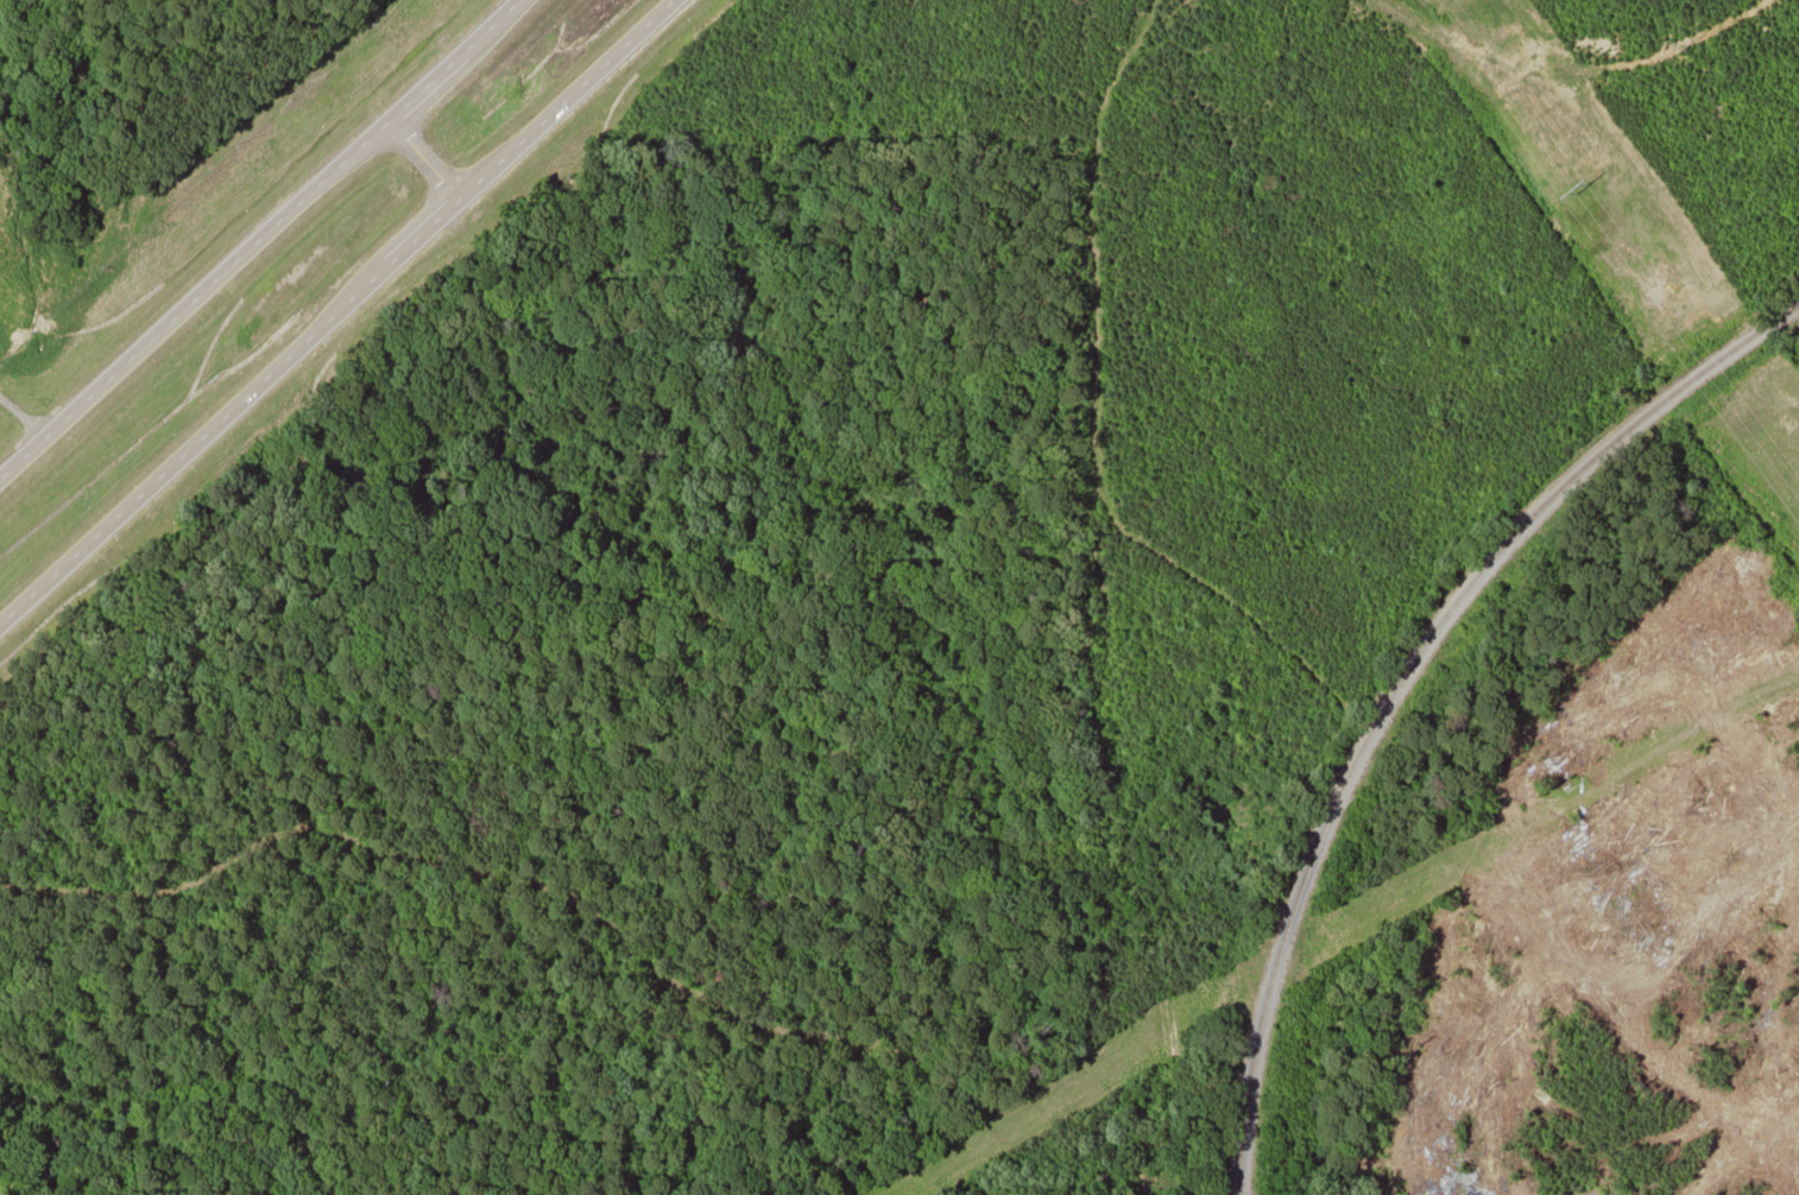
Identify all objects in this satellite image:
road: (423, 162)
road: (259, 240)
road: (337, 312)
road: (23, 417)
railway: (1453, 697)

